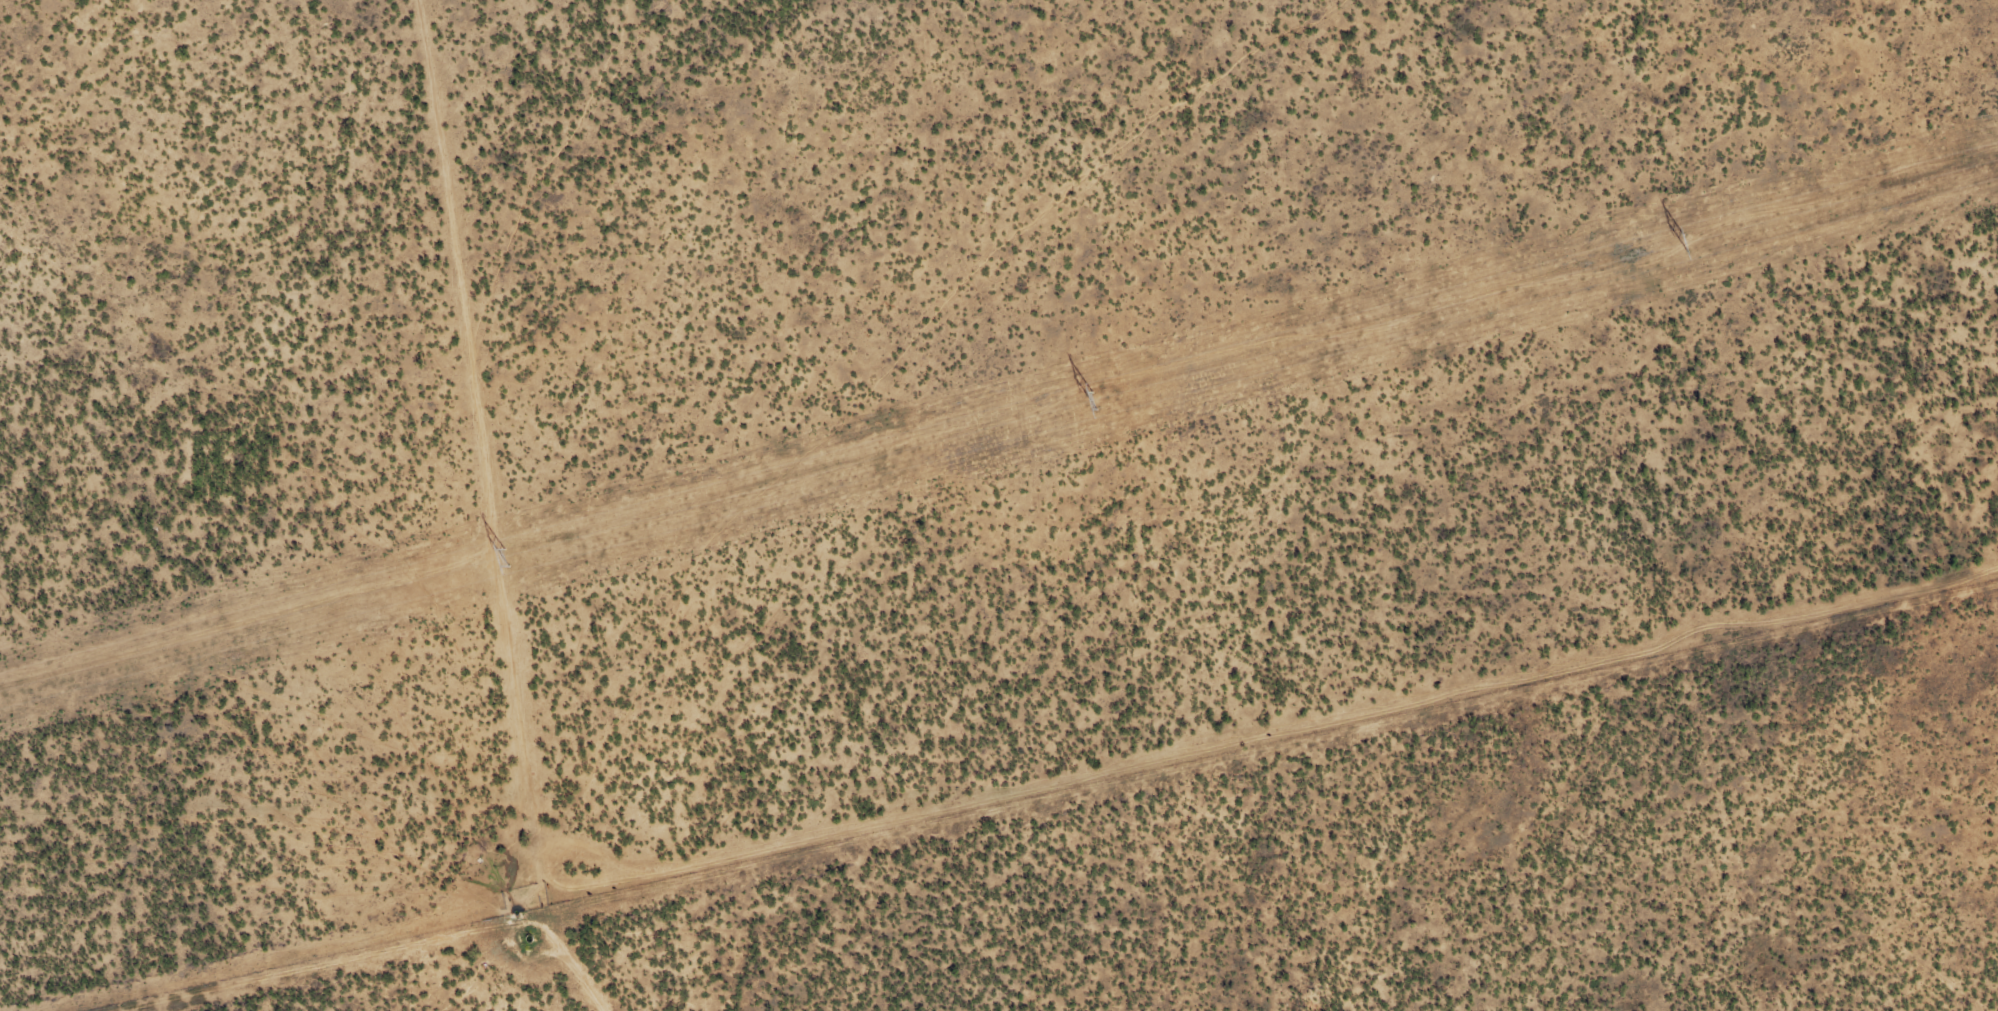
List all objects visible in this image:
power tower: (1687, 244)
power tower: (1094, 399)
power tower: (508, 556)

